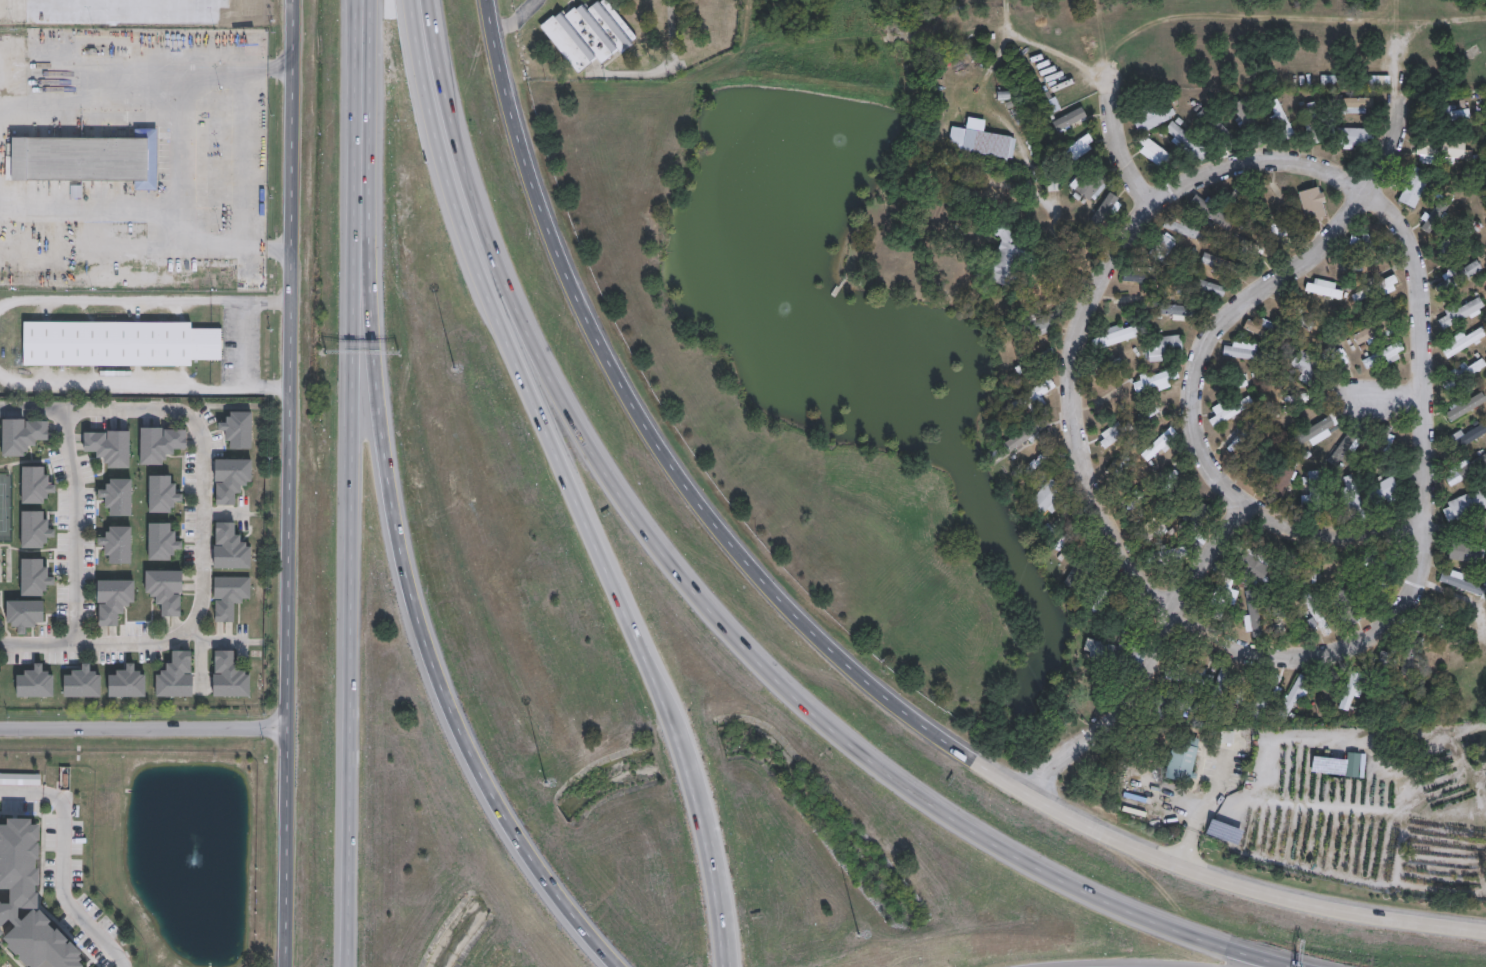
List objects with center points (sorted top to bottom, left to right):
road: (517, 16)
building: (591, 34)
road: (361, 44)
road: (1053, 51)
road: (73, 71)
building: (1355, 82)
building: (1053, 101)
building: (1359, 105)
building: (1461, 112)
building: (1249, 115)
building: (1153, 119)
building: (1281, 119)
building: (1319, 123)
building: (1213, 126)
building: (1183, 137)
building: (1360, 137)
building: (984, 142)
road: (1116, 145)
building: (1082, 148)
building: (1444, 150)
building: (1041, 151)
building: (1161, 153)
road: (176, 156)
building: (88, 159)
building: (1092, 183)
building: (1054, 184)
building: (1419, 187)
building: (1249, 198)
road: (87, 203)
building: (1317, 204)
building: (1440, 209)
building: (1215, 211)
building: (1107, 212)
building: (1190, 230)
building: (1457, 242)
building: (1375, 244)
building: (1254, 245)
building: (1162, 250)
building: (1012, 254)
building: (1226, 266)
building: (1143, 275)
building: (1458, 277)
building: (1205, 286)
building: (1327, 288)
building: (1379, 289)
road: (120, 299)
building: (1133, 303)
building: (1183, 312)
building: (1464, 312)
building: (1297, 314)
building: (1042, 322)
building: (1258, 326)
building: (1380, 331)
building: (1275, 333)
building: (1121, 334)
building: (1467, 342)
building: (116, 344)
road: (242, 345)
building: (1165, 349)
building: (1248, 352)
building: (1346, 355)
building: (1388, 356)
road: (1194, 361)
building: (1036, 364)
building: (1113, 367)
building: (1310, 368)
building: (1465, 374)
building: (1156, 381)
road: (119, 386)
building: (1236, 386)
building: (1038, 391)
road: (1415, 391)
road: (1384, 394)
building: (1299, 398)
building: (1113, 402)
building: (1466, 408)
road: (97, 411)
building: (1232, 411)
building: (1157, 412)
road: (1071, 421)
building: (238, 427)
building: (1323, 430)
building: (1119, 432)
building: (20, 434)
building: (1383, 436)
building: (1026, 437)
building: (1467, 440)
building: (159, 442)
building: (1235, 444)
building: (110, 445)
building: (1349, 446)
building: (1259, 449)
building: (1159, 451)
road: (667, 455)
building: (1043, 460)
building: (1118, 460)
building: (1255, 462)
building: (1468, 471)
building: (230, 476)
building: (1177, 478)
building: (1285, 478)
road: (292, 483)
road: (565, 483)
building: (33, 484)
building: (1312, 489)
building: (1387, 490)
building: (163, 492)
building: (119, 495)
building: (1357, 499)
building: (1050, 500)
building: (1468, 507)
building: (1198, 523)
road: (77, 526)
road: (353, 527)
building: (33, 528)
road: (207, 533)
building: (1071, 537)
building: (161, 540)
building: (1189, 540)
building: (117, 542)
building: (229, 545)
building: (1469, 552)
road: (400, 555)
building: (1380, 560)
building: (1255, 563)
building: (1290, 566)
building: (1086, 568)
building: (1316, 573)
building: (32, 576)
building: (1462, 585)
building: (166, 589)
building: (229, 592)
building: (1103, 596)
building: (1226, 596)
building: (114, 598)
building: (1353, 609)
building: (21, 613)
building: (1128, 613)
road: (710, 615)
building: (1256, 616)
building: (1321, 616)
building: (1281, 617)
building: (1442, 625)
road: (2, 643)
road: (92, 643)
building: (1415, 650)
building: (1116, 655)
road: (1150, 659)
building: (1387, 672)
building: (175, 674)
building: (229, 675)
building: (1194, 675)
building: (34, 681)
building: (81, 681)
building: (126, 681)
building: (1223, 685)
building: (1357, 688)
building: (1245, 691)
building: (1270, 695)
building: (1326, 696)
building: (1296, 697)
building: (1177, 702)
road: (144, 730)
building: (1227, 737)
road: (1264, 756)
building: (1186, 759)
building: (1359, 764)
building: (20, 778)
road: (1212, 793)
building: (1225, 832)
road: (1186, 846)
road: (59, 864)
road: (1247, 884)
building: (27, 904)
road: (725, 906)

